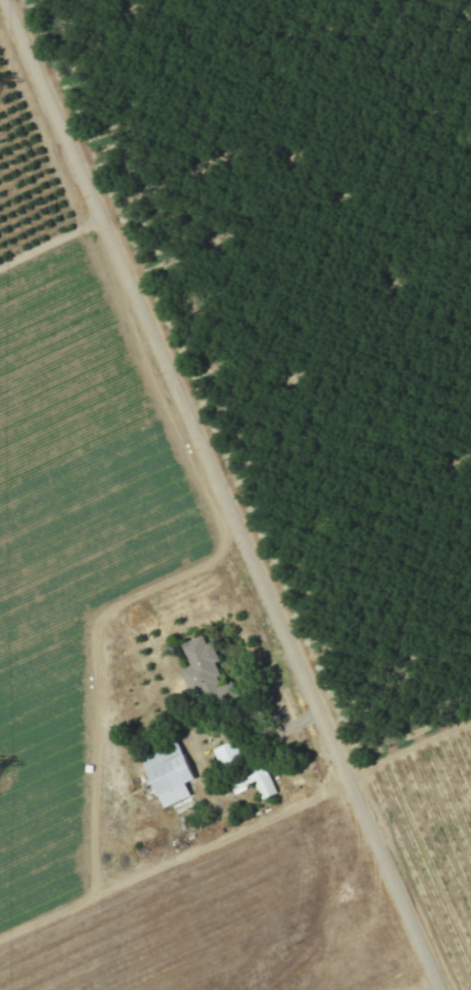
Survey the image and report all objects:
road: (219, 495)
building: (200, 667)
road: (94, 669)
building: (223, 752)
building: (167, 774)
building: (261, 782)
road: (173, 861)

